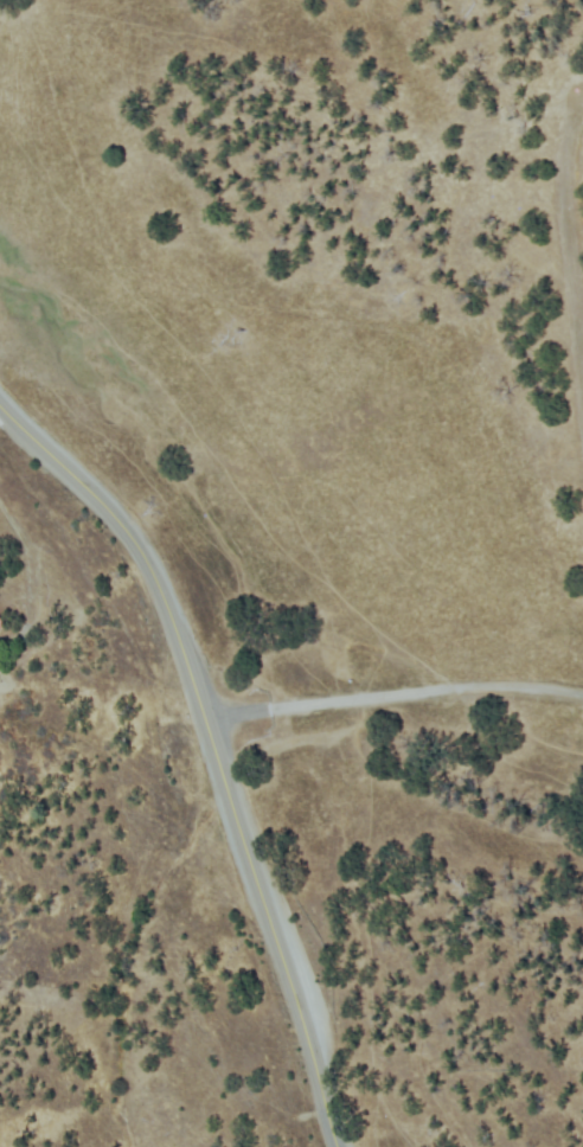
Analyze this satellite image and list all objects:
building: (0, 628)
road: (392, 698)
road: (212, 751)

